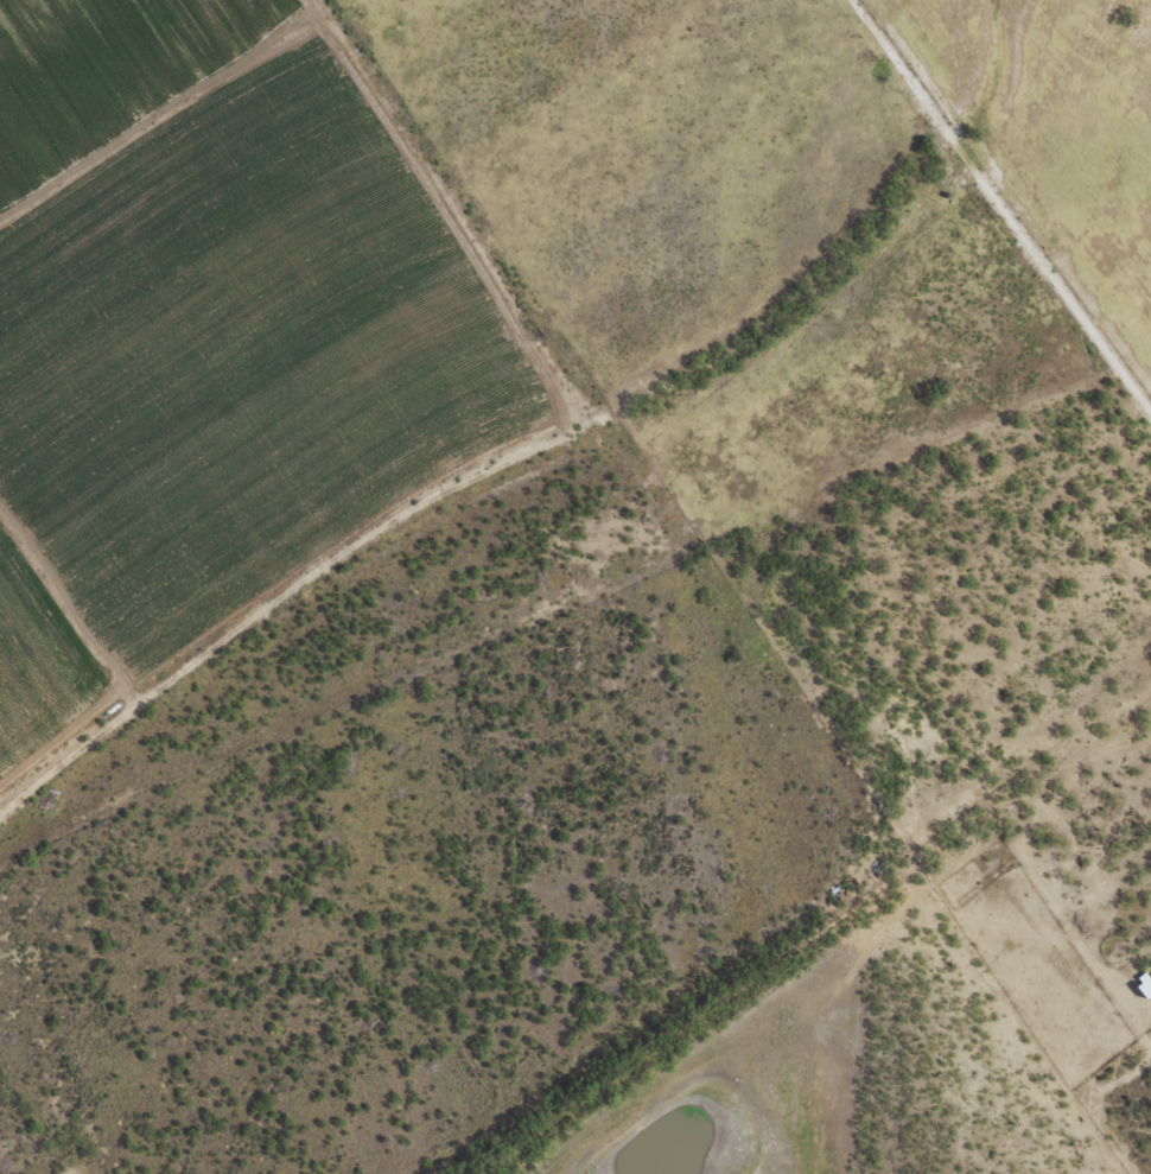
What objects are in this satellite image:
road: (1069, 154)
building: (1145, 984)

